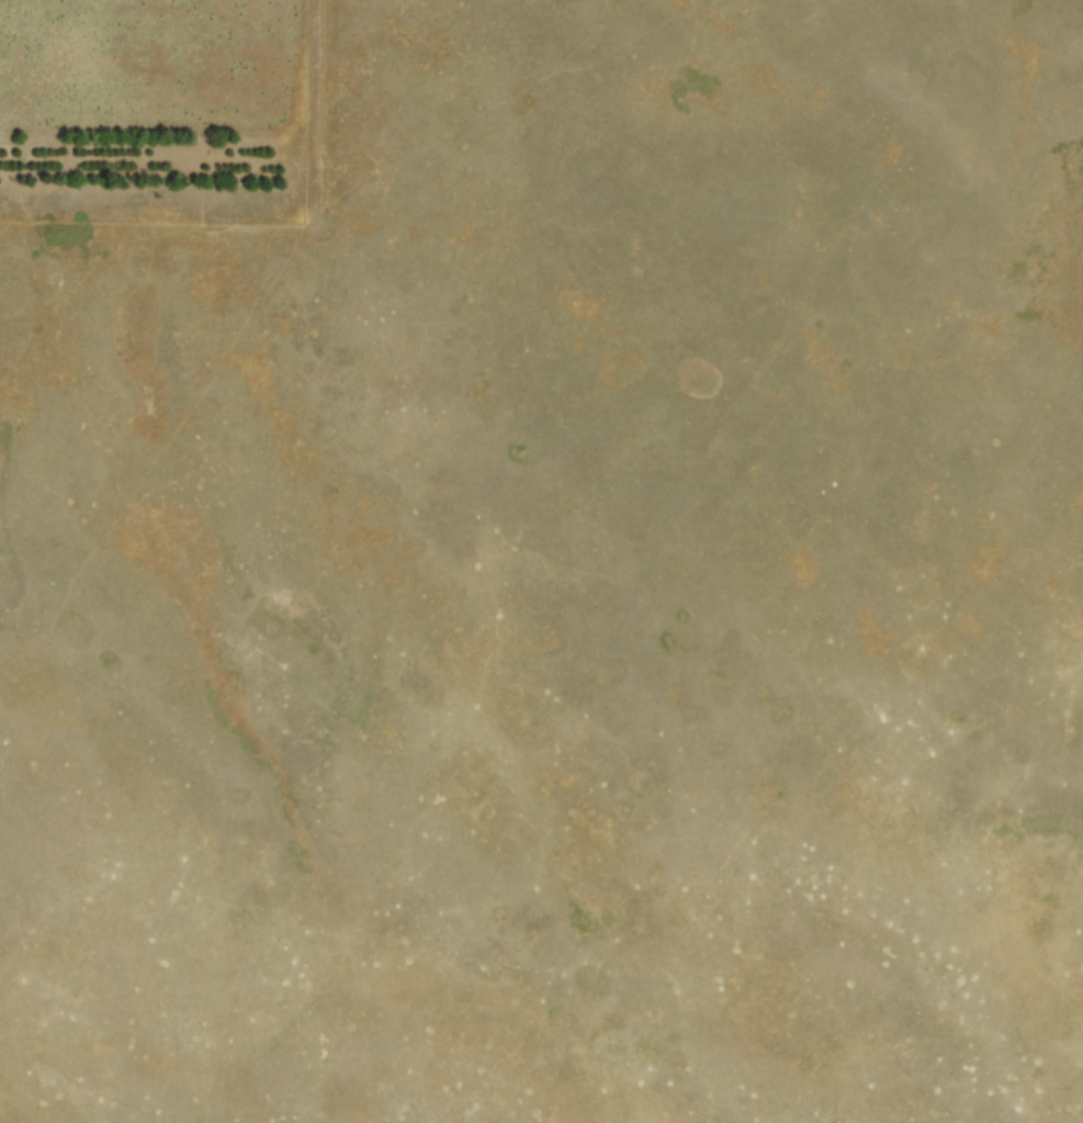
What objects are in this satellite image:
crop: (146, 64)

